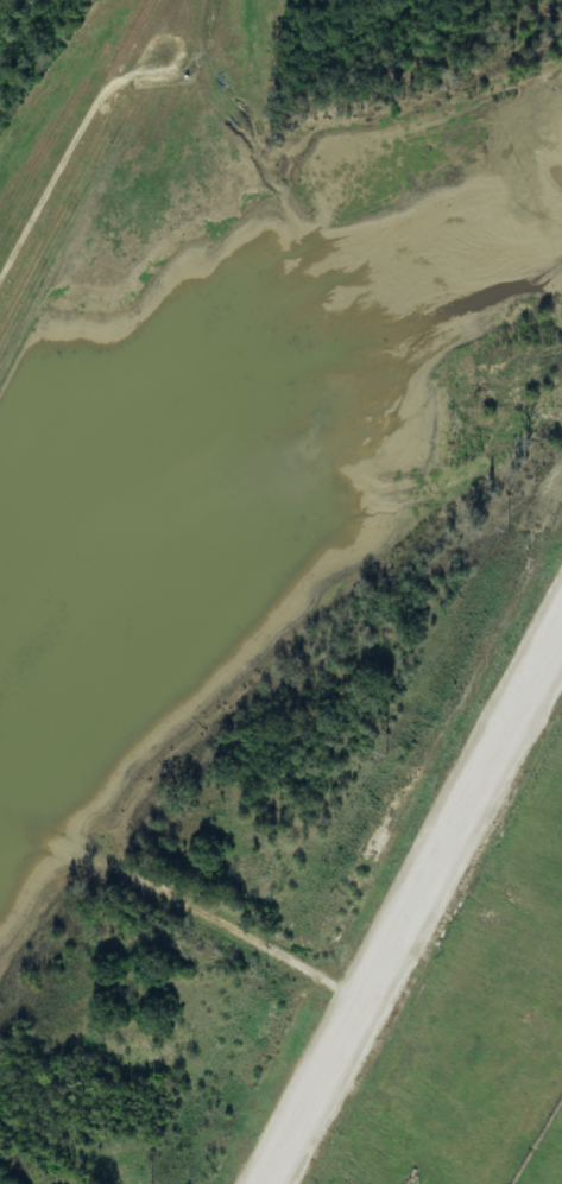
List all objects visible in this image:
road: (70, 162)
road: (465, 815)
road: (318, 1090)

